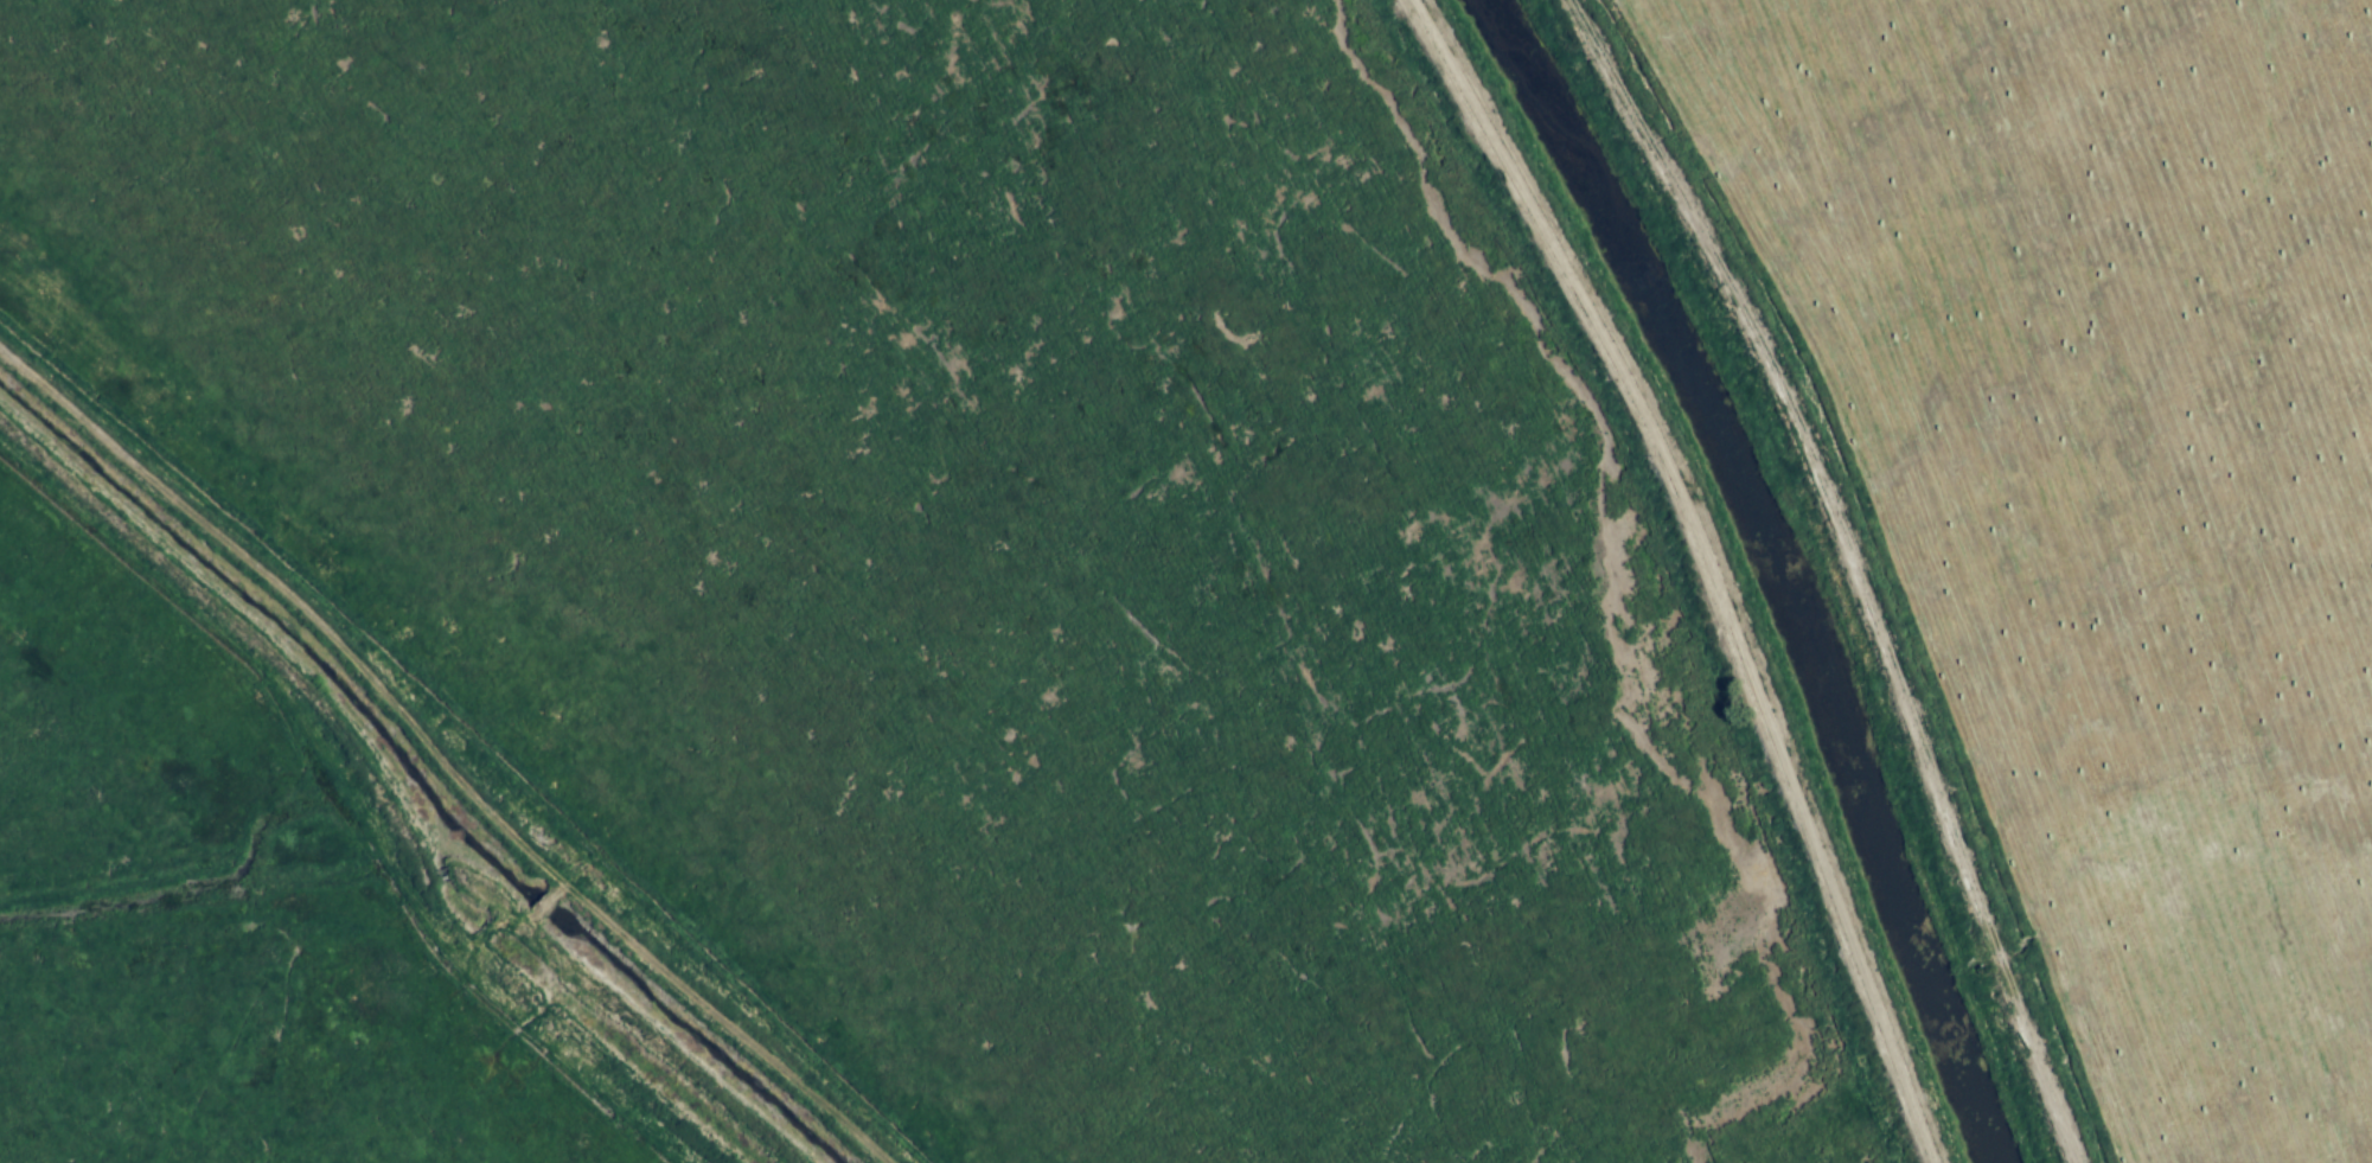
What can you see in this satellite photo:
river: (1786, 558)
road: (1714, 562)

